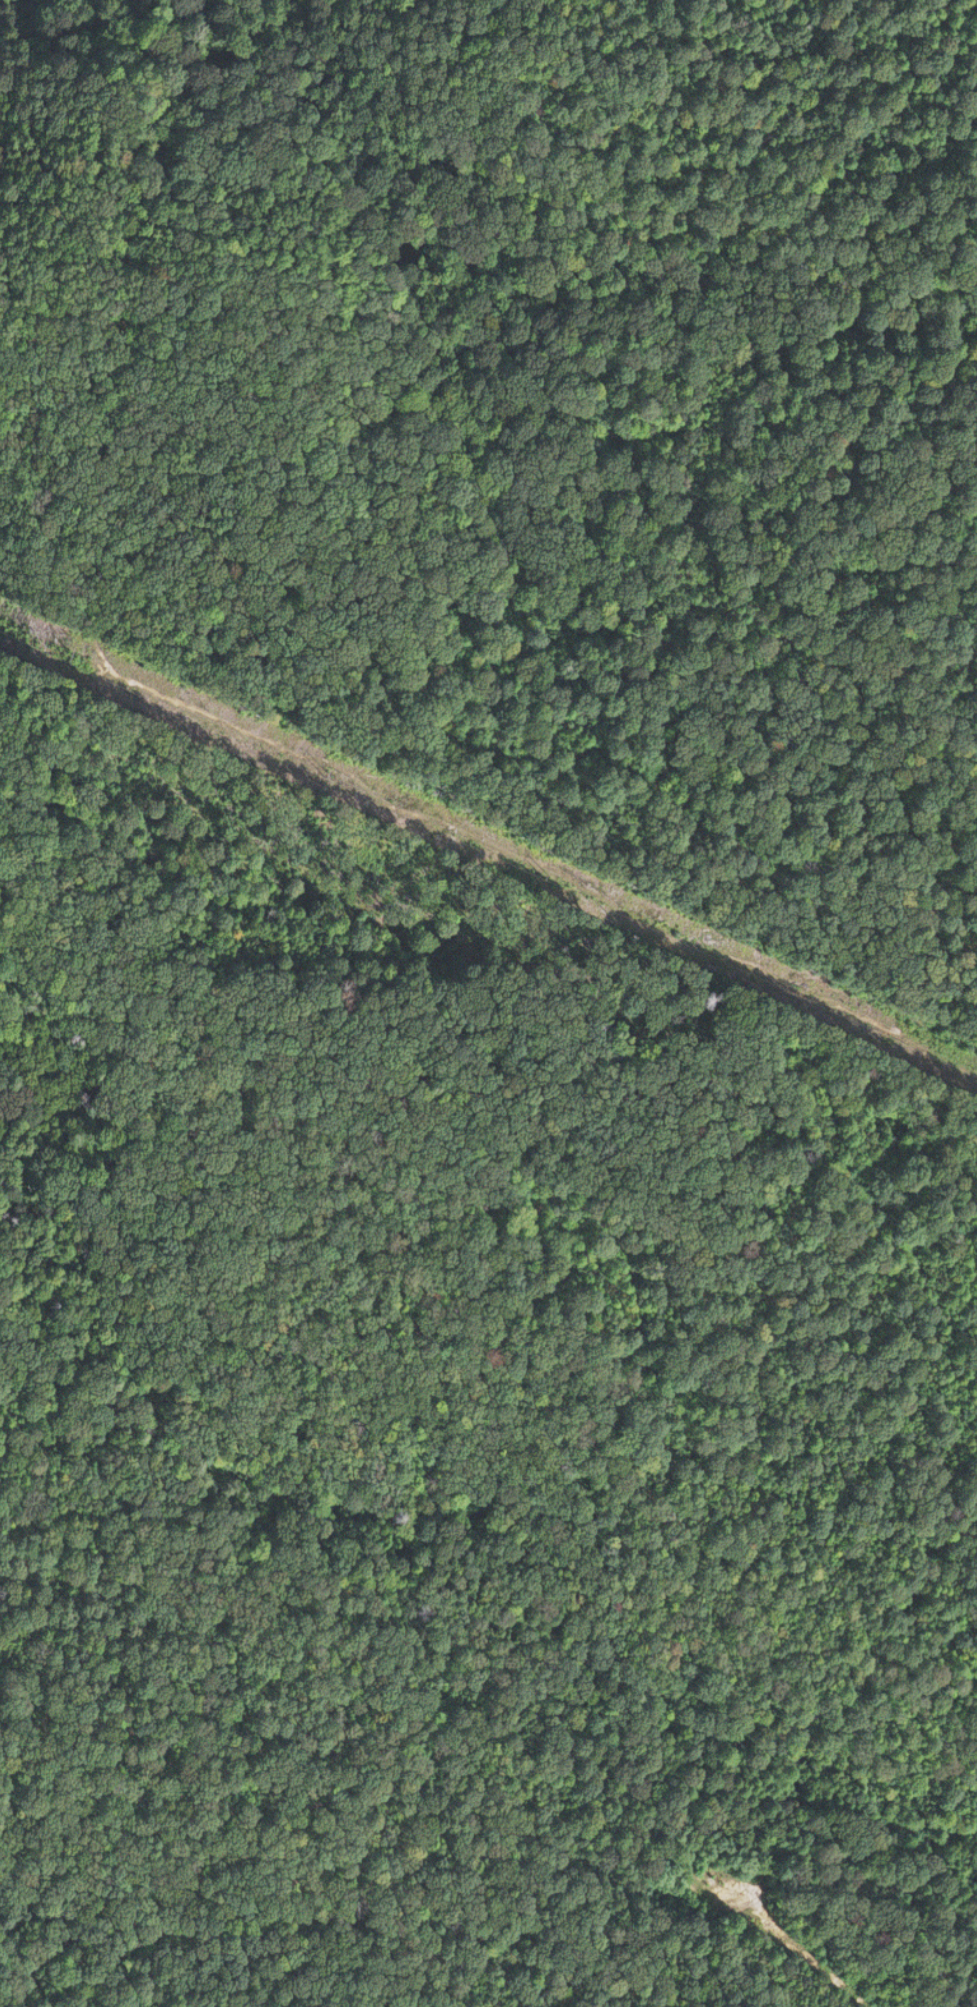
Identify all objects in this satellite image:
road: (612, 1811)

